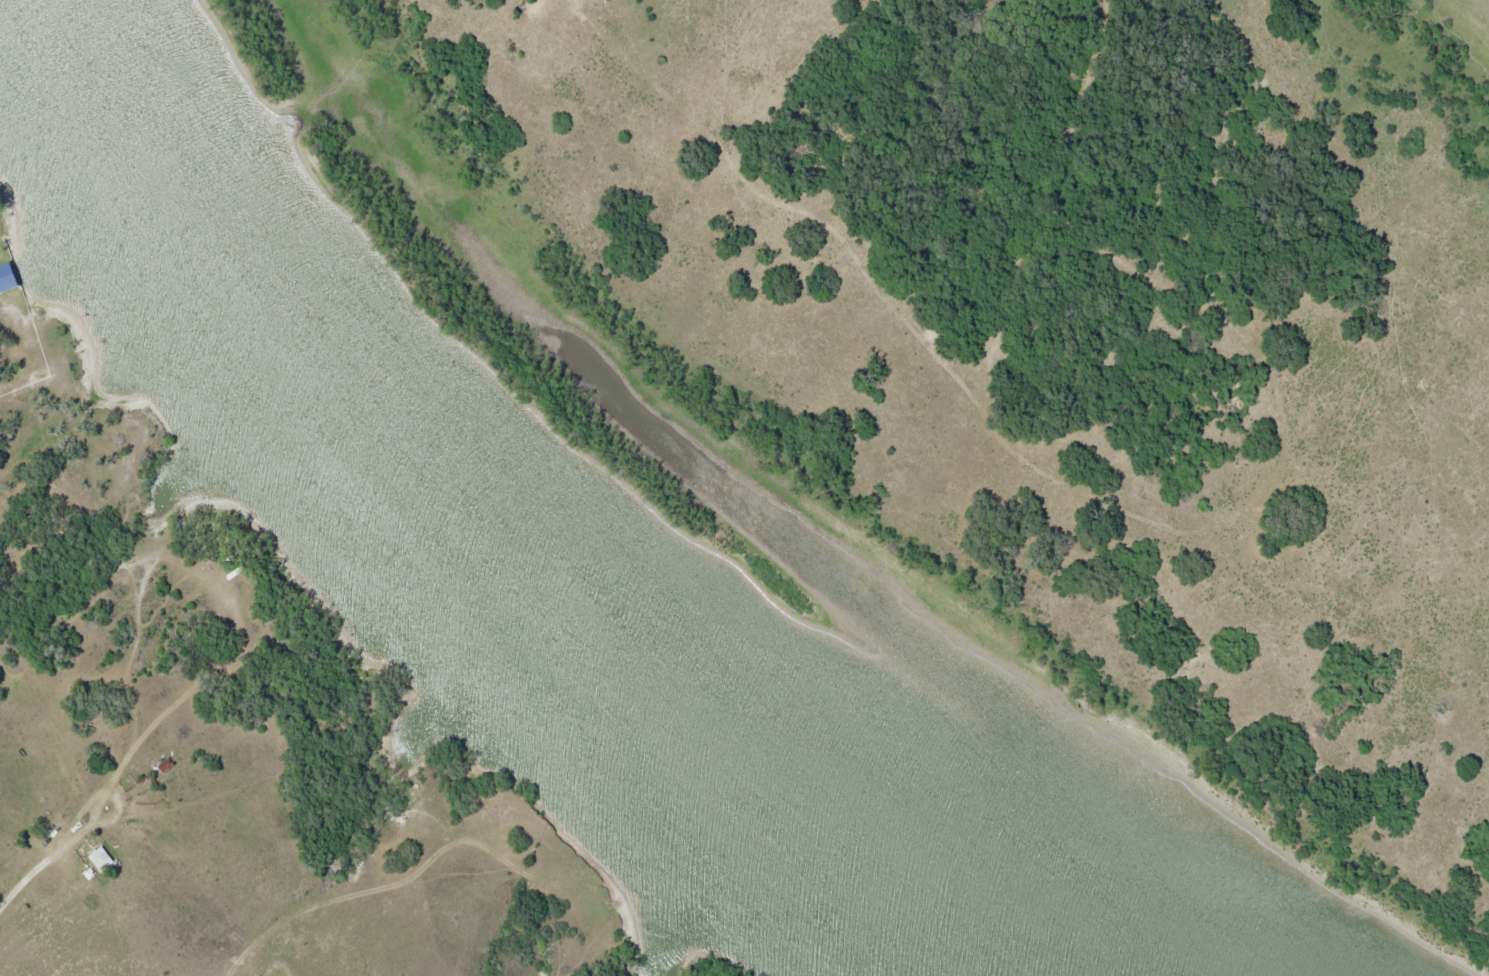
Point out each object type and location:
river: (477, 557)
road: (67, 843)
building: (104, 858)

